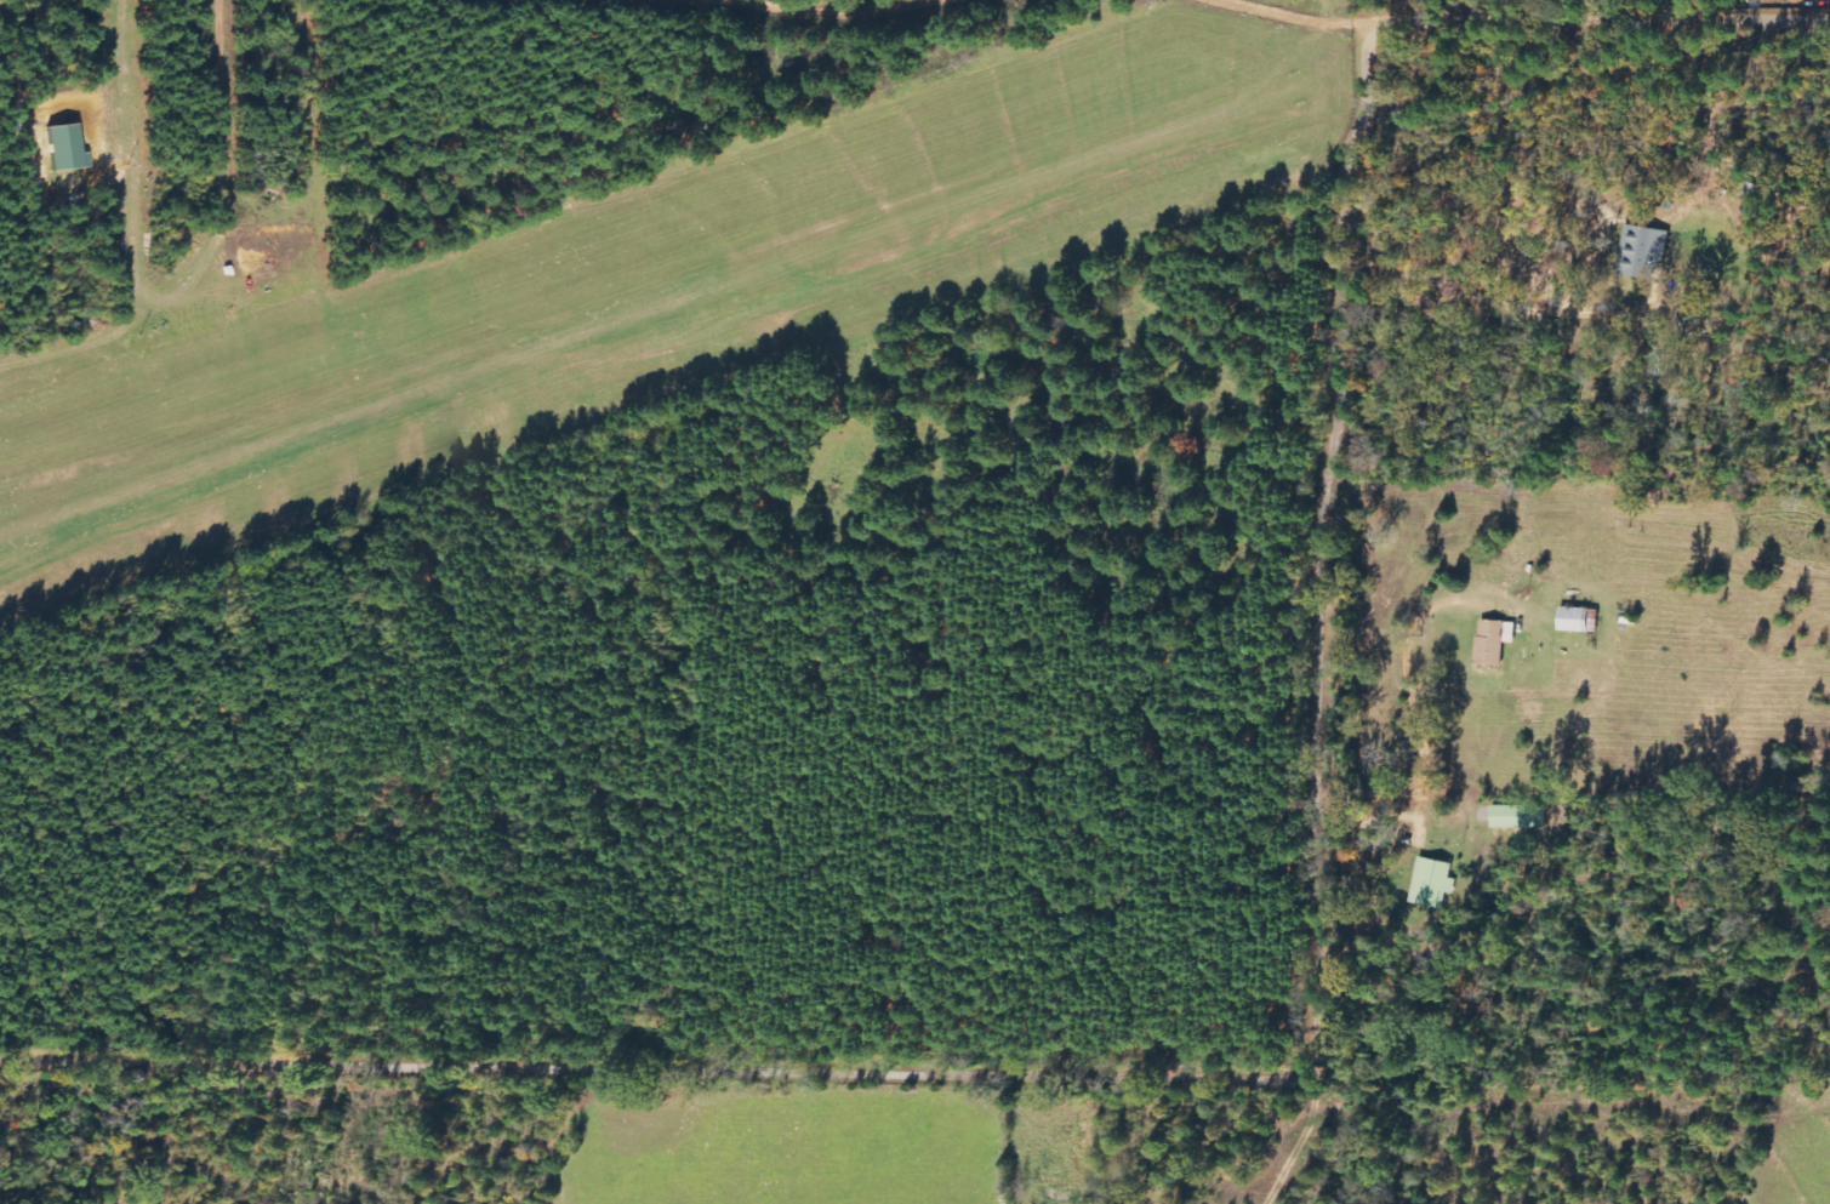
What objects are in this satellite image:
road: (1550, 21)
building: (64, 143)
building: (1642, 252)
airport runway: (629, 332)
building: (1579, 621)
building: (1494, 643)
building: (1518, 818)
building: (1432, 884)
road: (1123, 1080)

